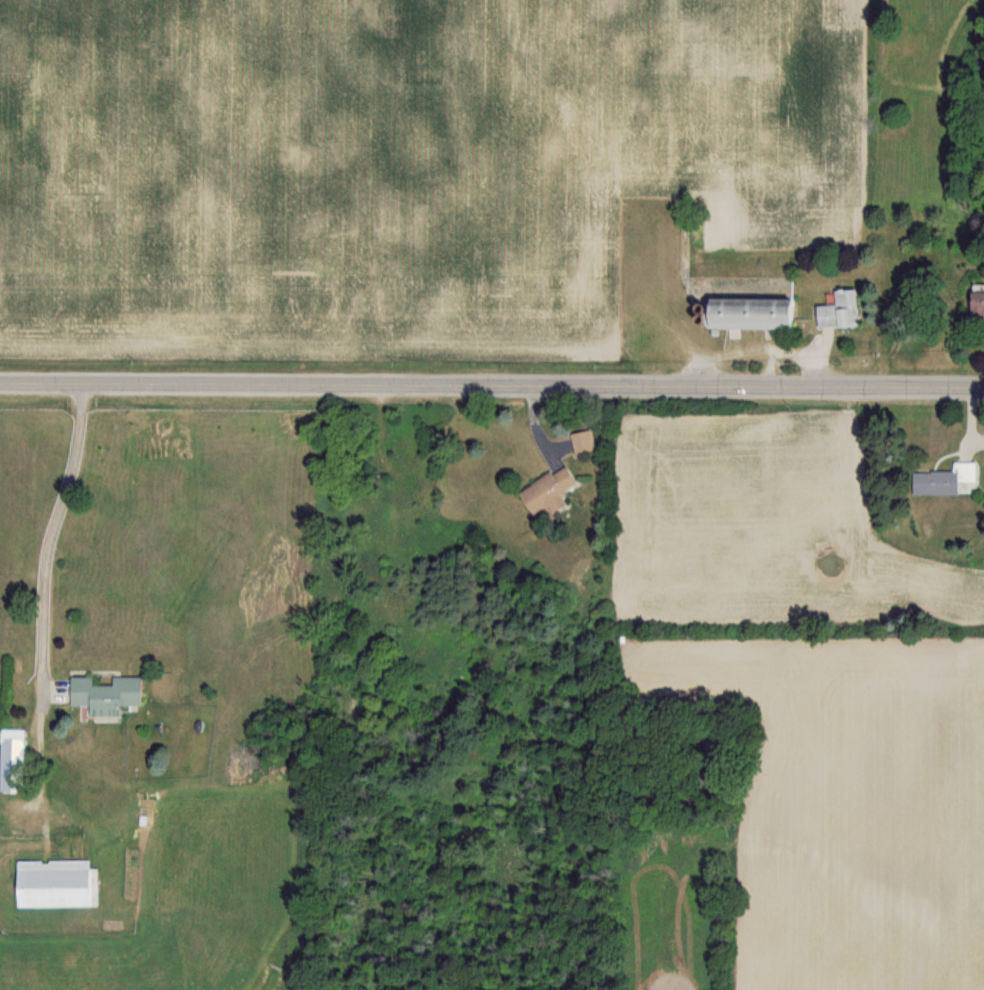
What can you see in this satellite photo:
park: (929, 110)
building: (974, 302)
building: (836, 309)
building: (745, 312)
road: (758, 349)
road: (768, 367)
road: (161, 384)
road: (654, 385)
building: (582, 441)
building: (941, 480)
building: (546, 491)
road: (36, 532)
building: (102, 694)
building: (11, 760)
building: (54, 883)

